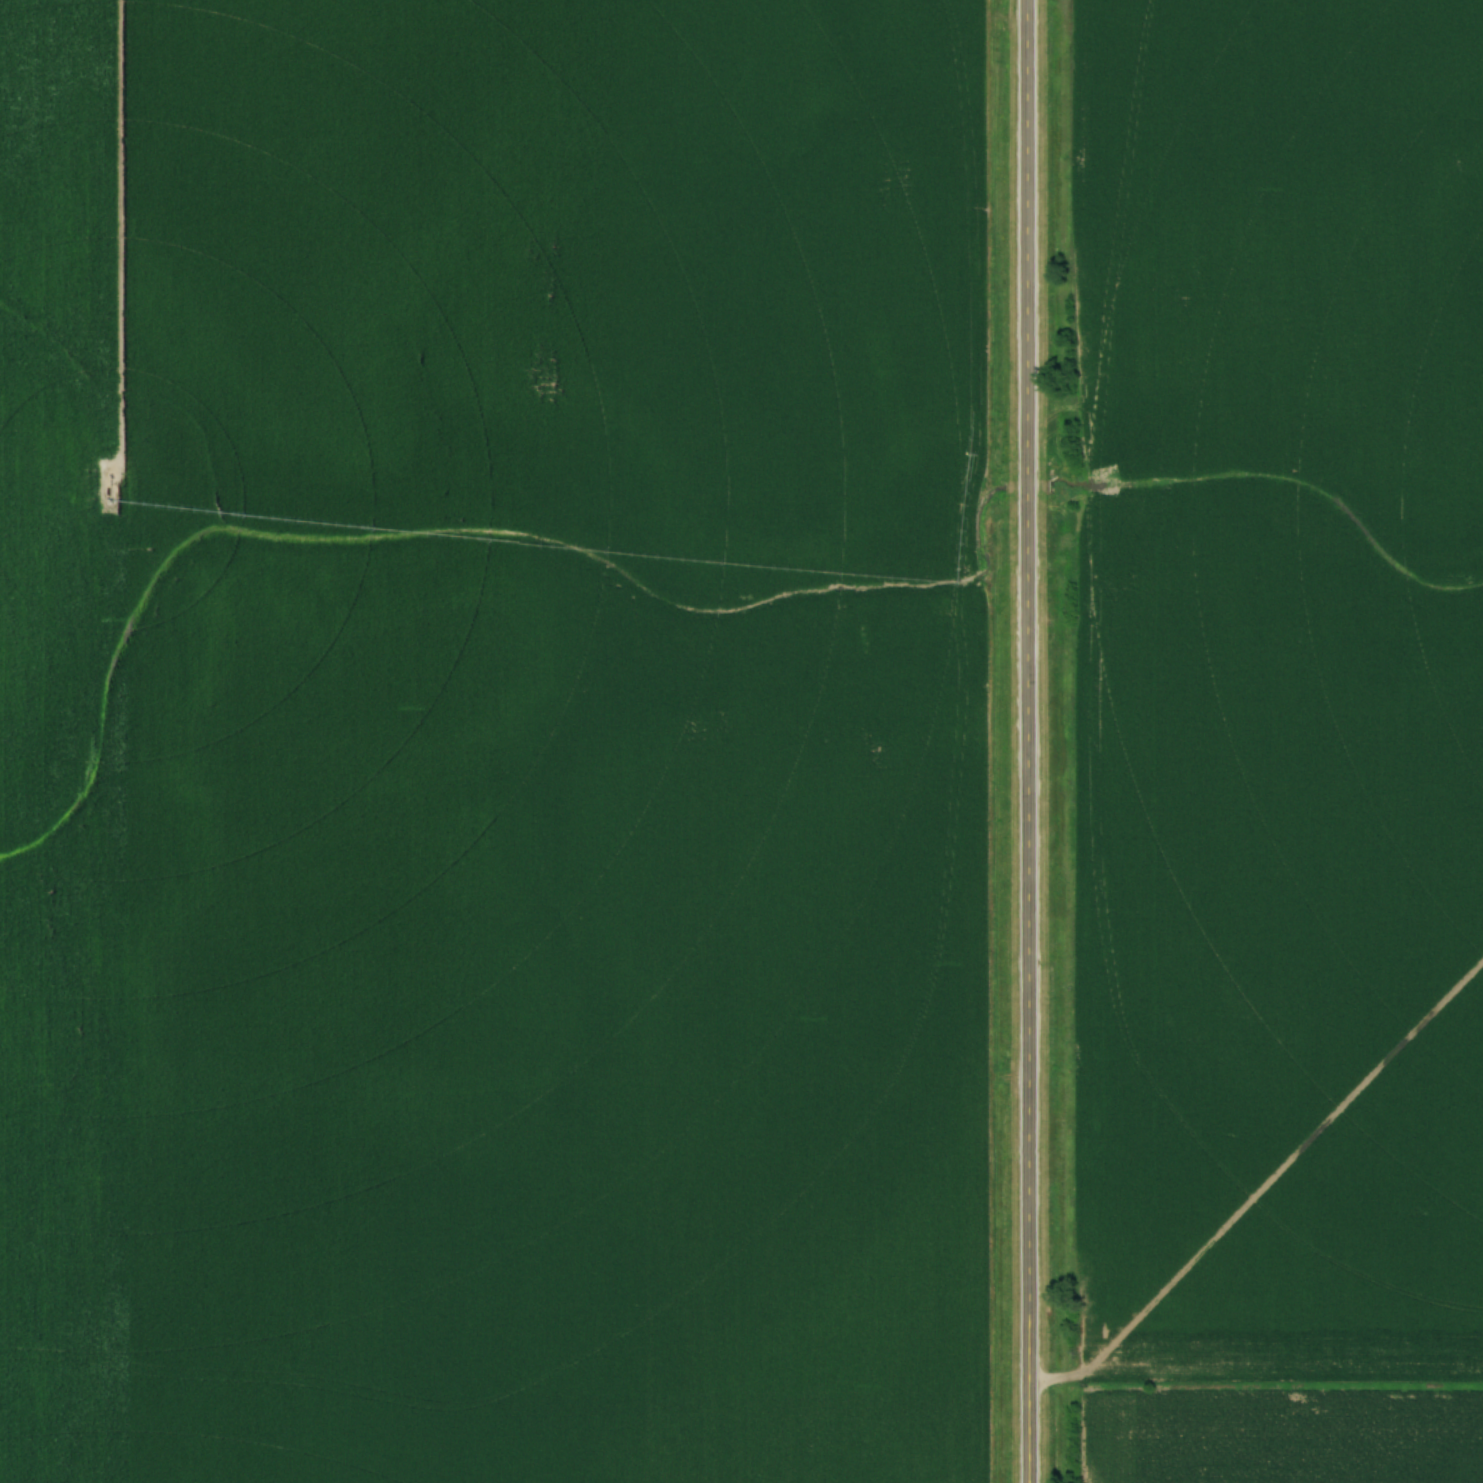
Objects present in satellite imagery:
road: (1030, 741)

